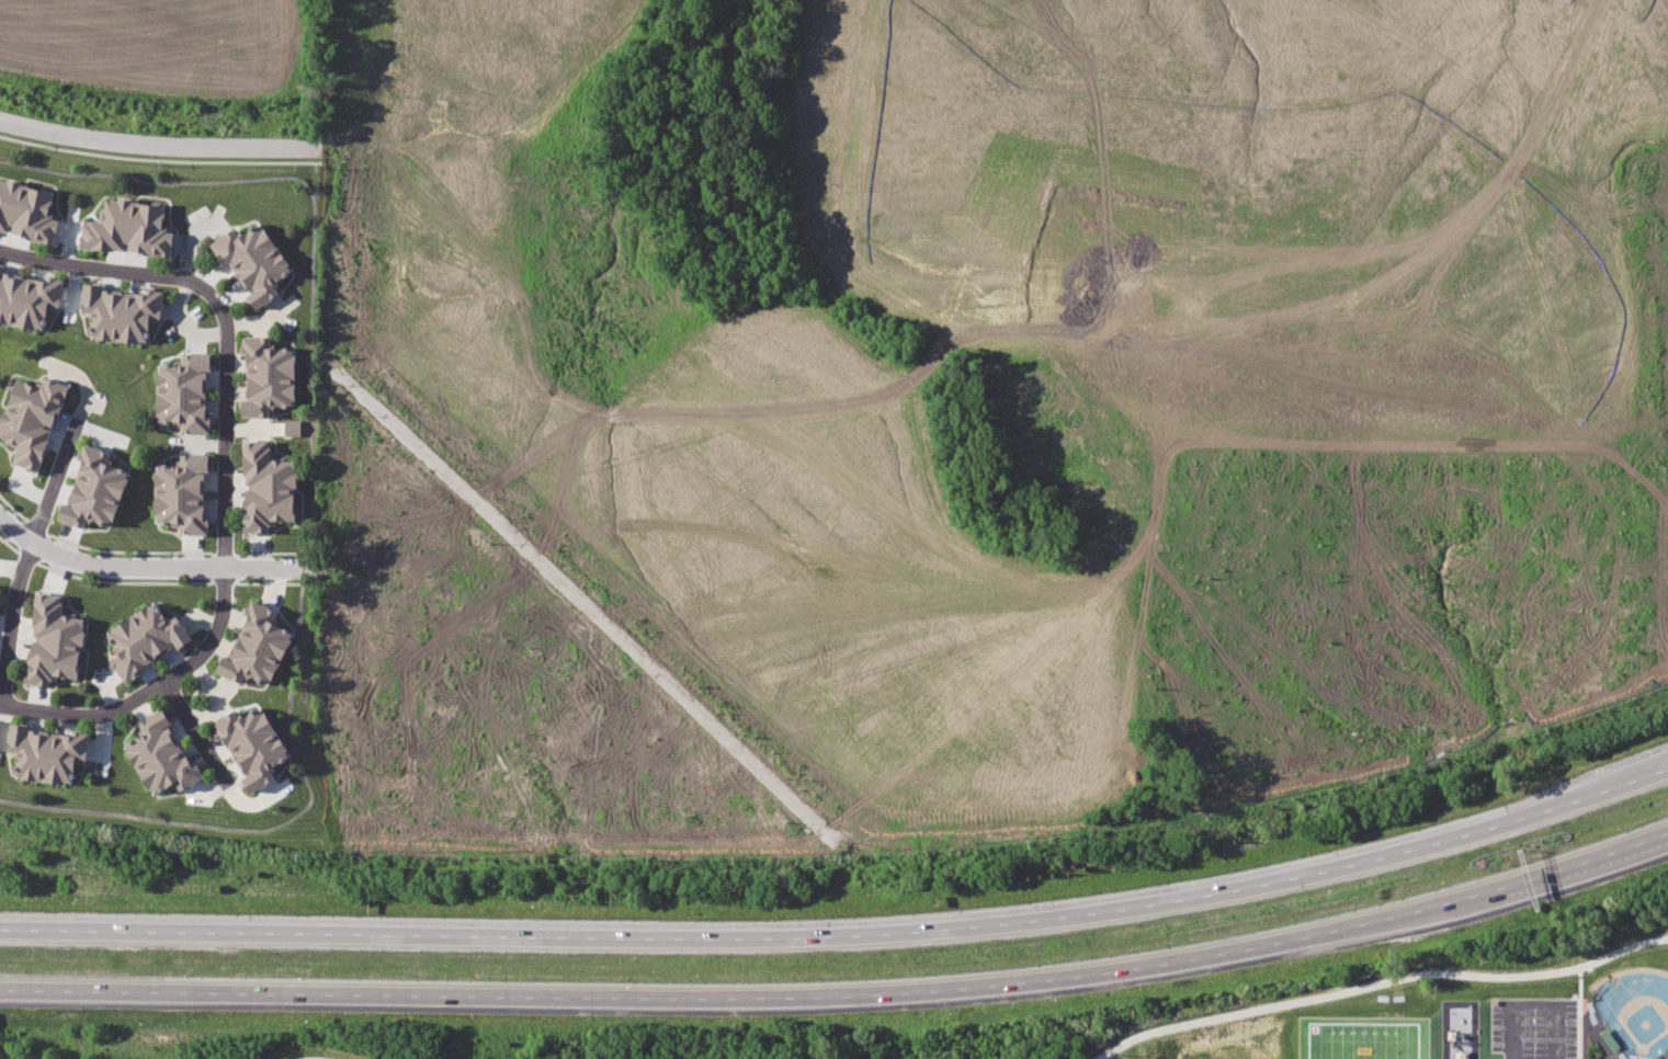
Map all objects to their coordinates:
road: (156, 143)
road: (158, 158)
building: (26, 215)
building: (128, 231)
building: (253, 263)
building: (0, 269)
road: (111, 271)
building: (27, 301)
building: (118, 314)
building: (265, 378)
building: (182, 391)
building: (31, 419)
building: (292, 426)
building: (264, 489)
building: (92, 490)
building: (181, 491)
road: (225, 500)
road: (309, 500)
road: (23, 566)
road: (154, 567)
building: (145, 638)
building: (53, 644)
building: (256, 646)
road: (89, 717)
road: (203, 741)
building: (252, 745)
building: (47, 753)
building: (161, 756)
road: (1664, 836)
road: (843, 938)
road: (1377, 982)
road: (842, 997)
park: (1634, 1009)
road: (1533, 1011)
road: (1578, 1012)
parking lot: (1534, 1028)
park: (1362, 1037)
road: (307, 1057)

